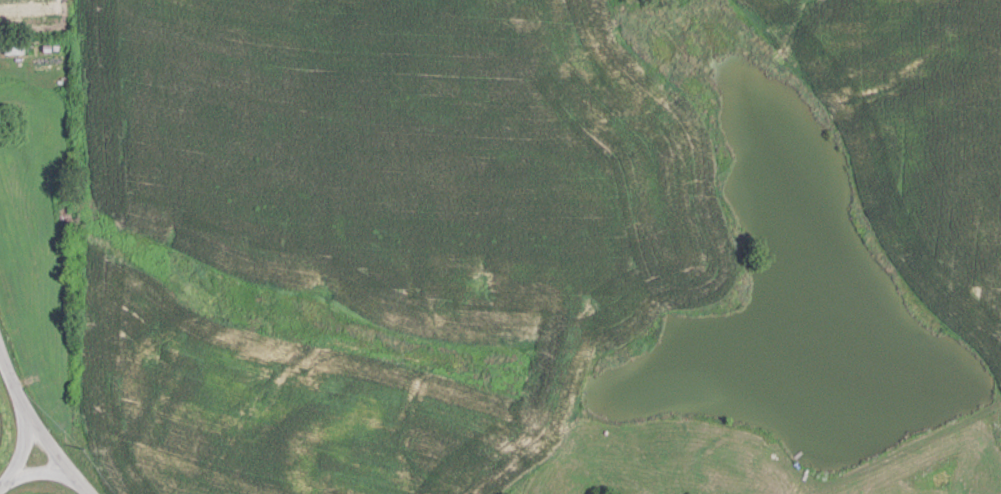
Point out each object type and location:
building: (15, 45)
road: (39, 422)
road: (30, 447)
road: (33, 468)

